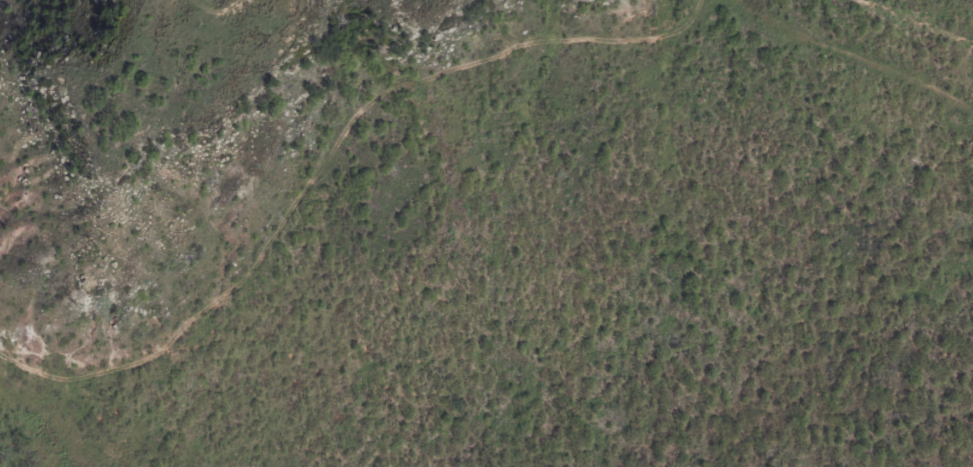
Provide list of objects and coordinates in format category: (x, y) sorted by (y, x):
road: (854, 122)

